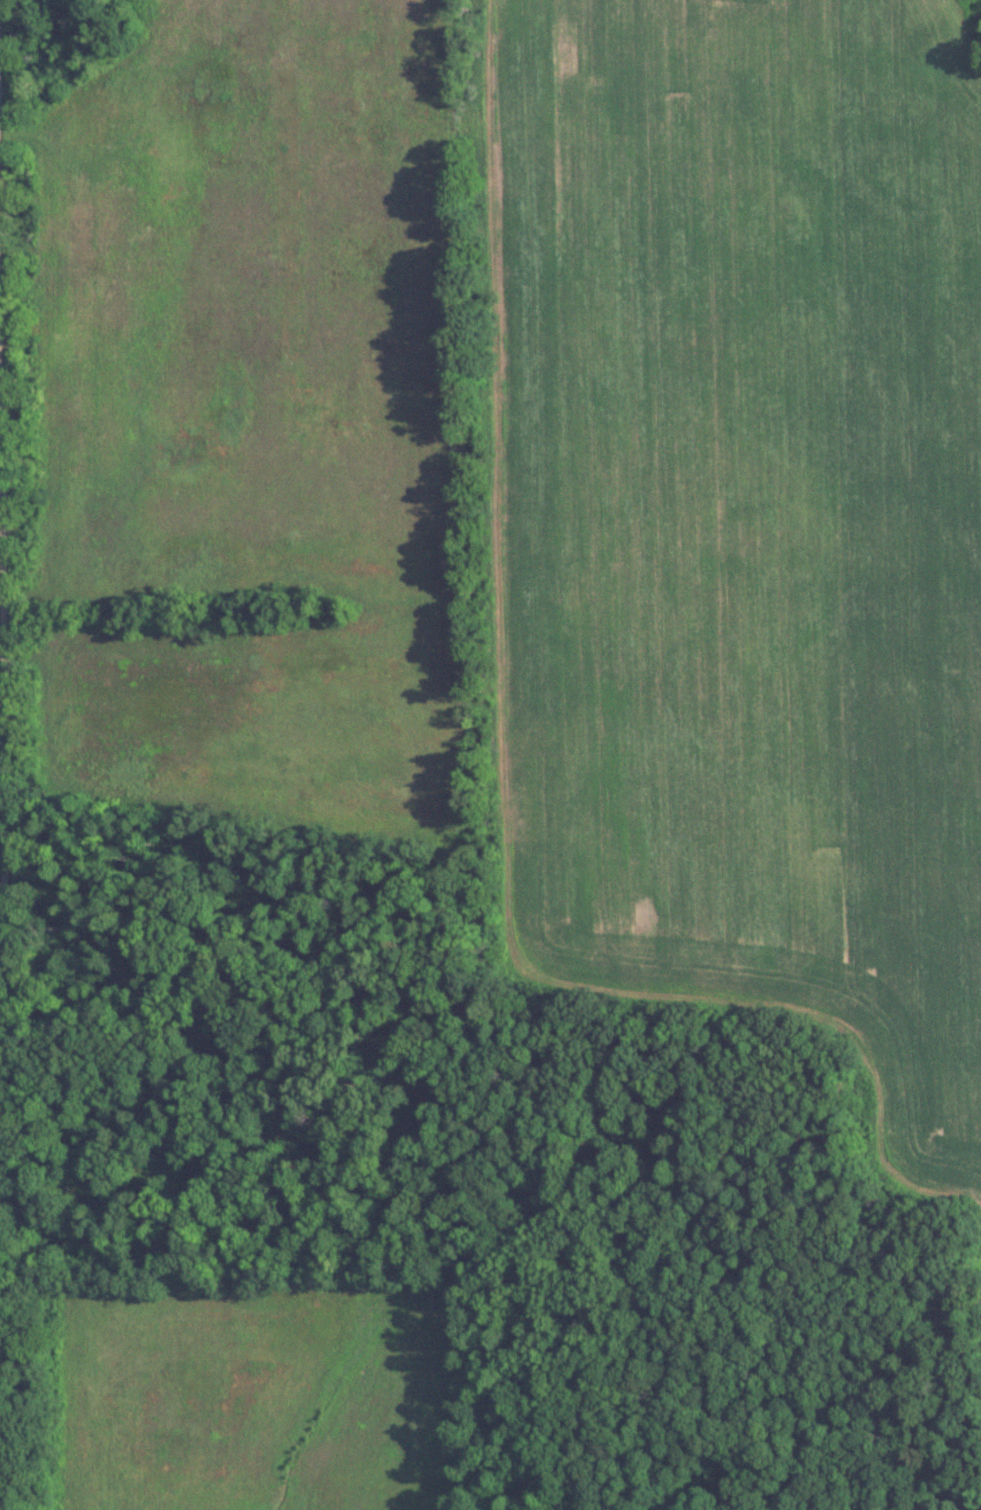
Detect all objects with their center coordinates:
road: (3, 879)

